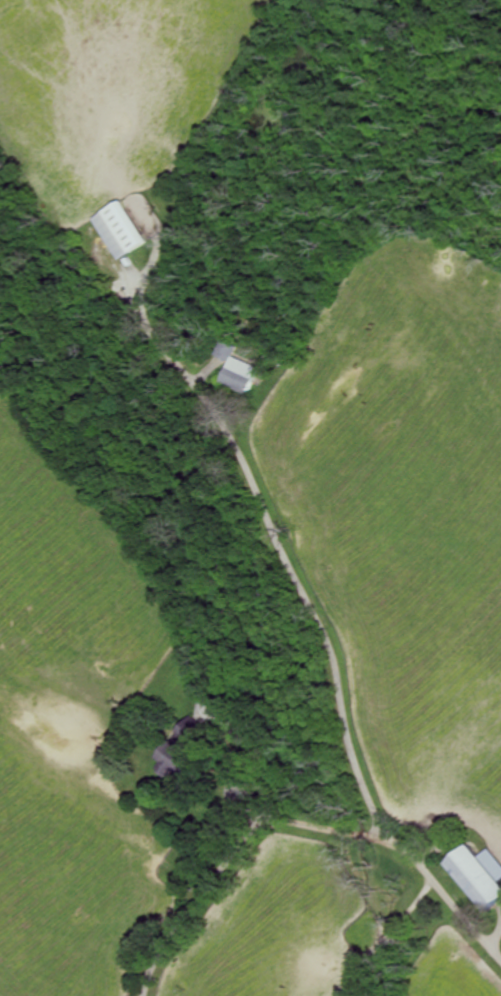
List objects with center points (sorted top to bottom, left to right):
building: (121, 227)
building: (237, 367)
road: (284, 549)
building: (198, 734)
building: (180, 755)
road: (302, 822)
building: (480, 870)

